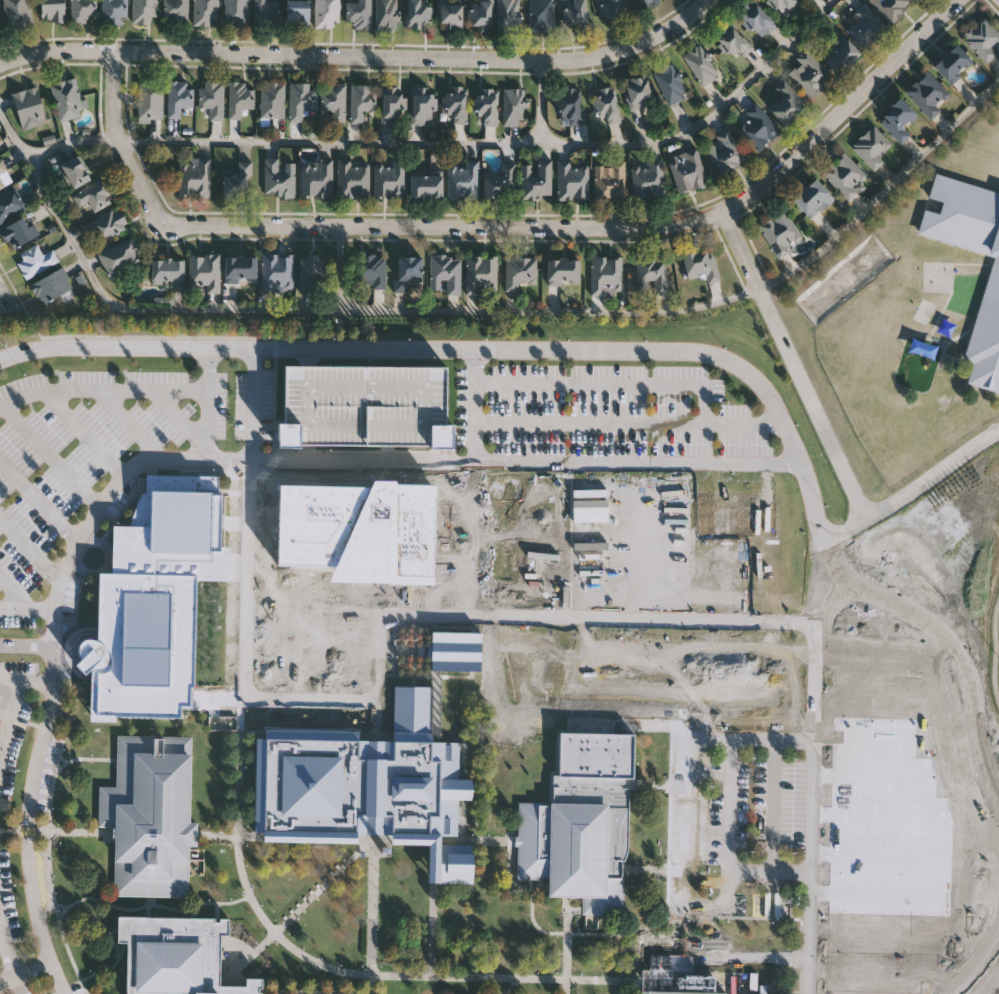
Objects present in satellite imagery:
building: (804, 0)
building: (645, 3)
building: (782, 5)
road: (993, 5)
building: (611, 8)
building: (890, 8)
building: (82, 10)
building: (52, 11)
building: (144, 11)
building: (175, 11)
building: (205, 11)
building: (114, 12)
building: (236, 12)
building: (265, 12)
building: (18, 13)
building: (297, 13)
building: (327, 13)
building: (359, 13)
building: (418, 13)
building: (386, 14)
building: (450, 14)
building: (575, 14)
building: (480, 15)
building: (507, 15)
building: (540, 15)
building: (755, 18)
building: (865, 27)
building: (982, 39)
building: (733, 43)
road: (356, 55)
building: (841, 56)
building: (952, 63)
building: (700, 65)
building: (808, 74)
building: (670, 84)
building: (636, 92)
building: (927, 96)
building: (178, 98)
building: (67, 99)
building: (212, 99)
building: (239, 100)
building: (272, 100)
building: (300, 100)
building: (333, 101)
building: (150, 102)
building: (360, 102)
road: (541, 102)
building: (782, 102)
building: (457, 104)
building: (568, 104)
building: (423, 106)
building: (486, 106)
building: (607, 106)
building: (29, 108)
building: (513, 108)
building: (392, 109)
building: (897, 120)
building: (756, 128)
road: (455, 143)
building: (871, 147)
building: (725, 153)
building: (687, 171)
building: (74, 172)
building: (4, 176)
building: (844, 176)
building: (194, 177)
building: (279, 177)
building: (316, 179)
building: (353, 179)
building: (389, 179)
building: (536, 180)
building: (572, 180)
building: (648, 180)
building: (609, 181)
building: (237, 182)
building: (463, 182)
building: (500, 182)
building: (425, 183)
building: (94, 196)
building: (811, 198)
building: (10, 205)
building: (109, 224)
road: (509, 225)
building: (17, 233)
building: (779, 233)
building: (120, 255)
building: (35, 261)
building: (700, 264)
building: (239, 269)
building: (205, 271)
building: (167, 272)
building: (277, 272)
building: (310, 272)
building: (519, 272)
building: (562, 272)
building: (371, 273)
building: (409, 273)
building: (652, 273)
building: (445, 274)
building: (481, 274)
building: (606, 276)
building: (51, 285)
building: (988, 308)
road: (483, 312)
road: (704, 357)
road: (793, 365)
road: (607, 382)
road: (102, 389)
road: (207, 404)
building: (364, 407)
parking lot: (364, 407)
road: (474, 407)
parking lot: (602, 412)
road: (627, 421)
parking lot: (101, 455)
road: (470, 461)
road: (933, 476)
road: (392, 500)
road: (39, 501)
building: (176, 522)
road: (841, 532)
park: (981, 534)
road: (380, 537)
parking lot: (358, 549)
road: (293, 555)
road: (336, 556)
road: (23, 602)
road: (456, 614)
parking lot: (902, 631)
road: (26, 646)
building: (146, 647)
road: (997, 649)
road: (308, 652)
building: (456, 652)
road: (910, 658)
road: (53, 663)
road: (961, 664)
building: (864, 680)
road: (38, 682)
road: (379, 689)
road: (876, 697)
road: (13, 714)
parking lot: (14, 722)
road: (960, 738)
road: (878, 739)
road: (58, 767)
road: (884, 777)
building: (368, 786)
road: (774, 806)
road: (731, 807)
building: (858, 807)
building: (150, 816)
road: (890, 817)
building: (581, 823)
stadium: (924, 825)
parking lot: (745, 826)
road: (2, 830)
road: (57, 830)
road: (690, 832)
road: (478, 838)
road: (901, 855)
road: (215, 858)
road: (994, 872)
road: (511, 875)
road: (327, 884)
road: (905, 895)
road: (116, 903)
parking lot: (8, 910)
road: (373, 913)
road: (262, 920)
road: (435, 930)
road: (894, 934)
road: (579, 936)
road: (2, 940)
road: (566, 946)
road: (7, 950)
building: (176, 956)
road: (246, 958)
road: (116, 966)
road: (878, 973)
road: (25, 976)
road: (989, 983)
road: (512, 987)
road: (317, 989)
road: (292, 992)
parking lot: (30, 993)
building: (660, 993)

